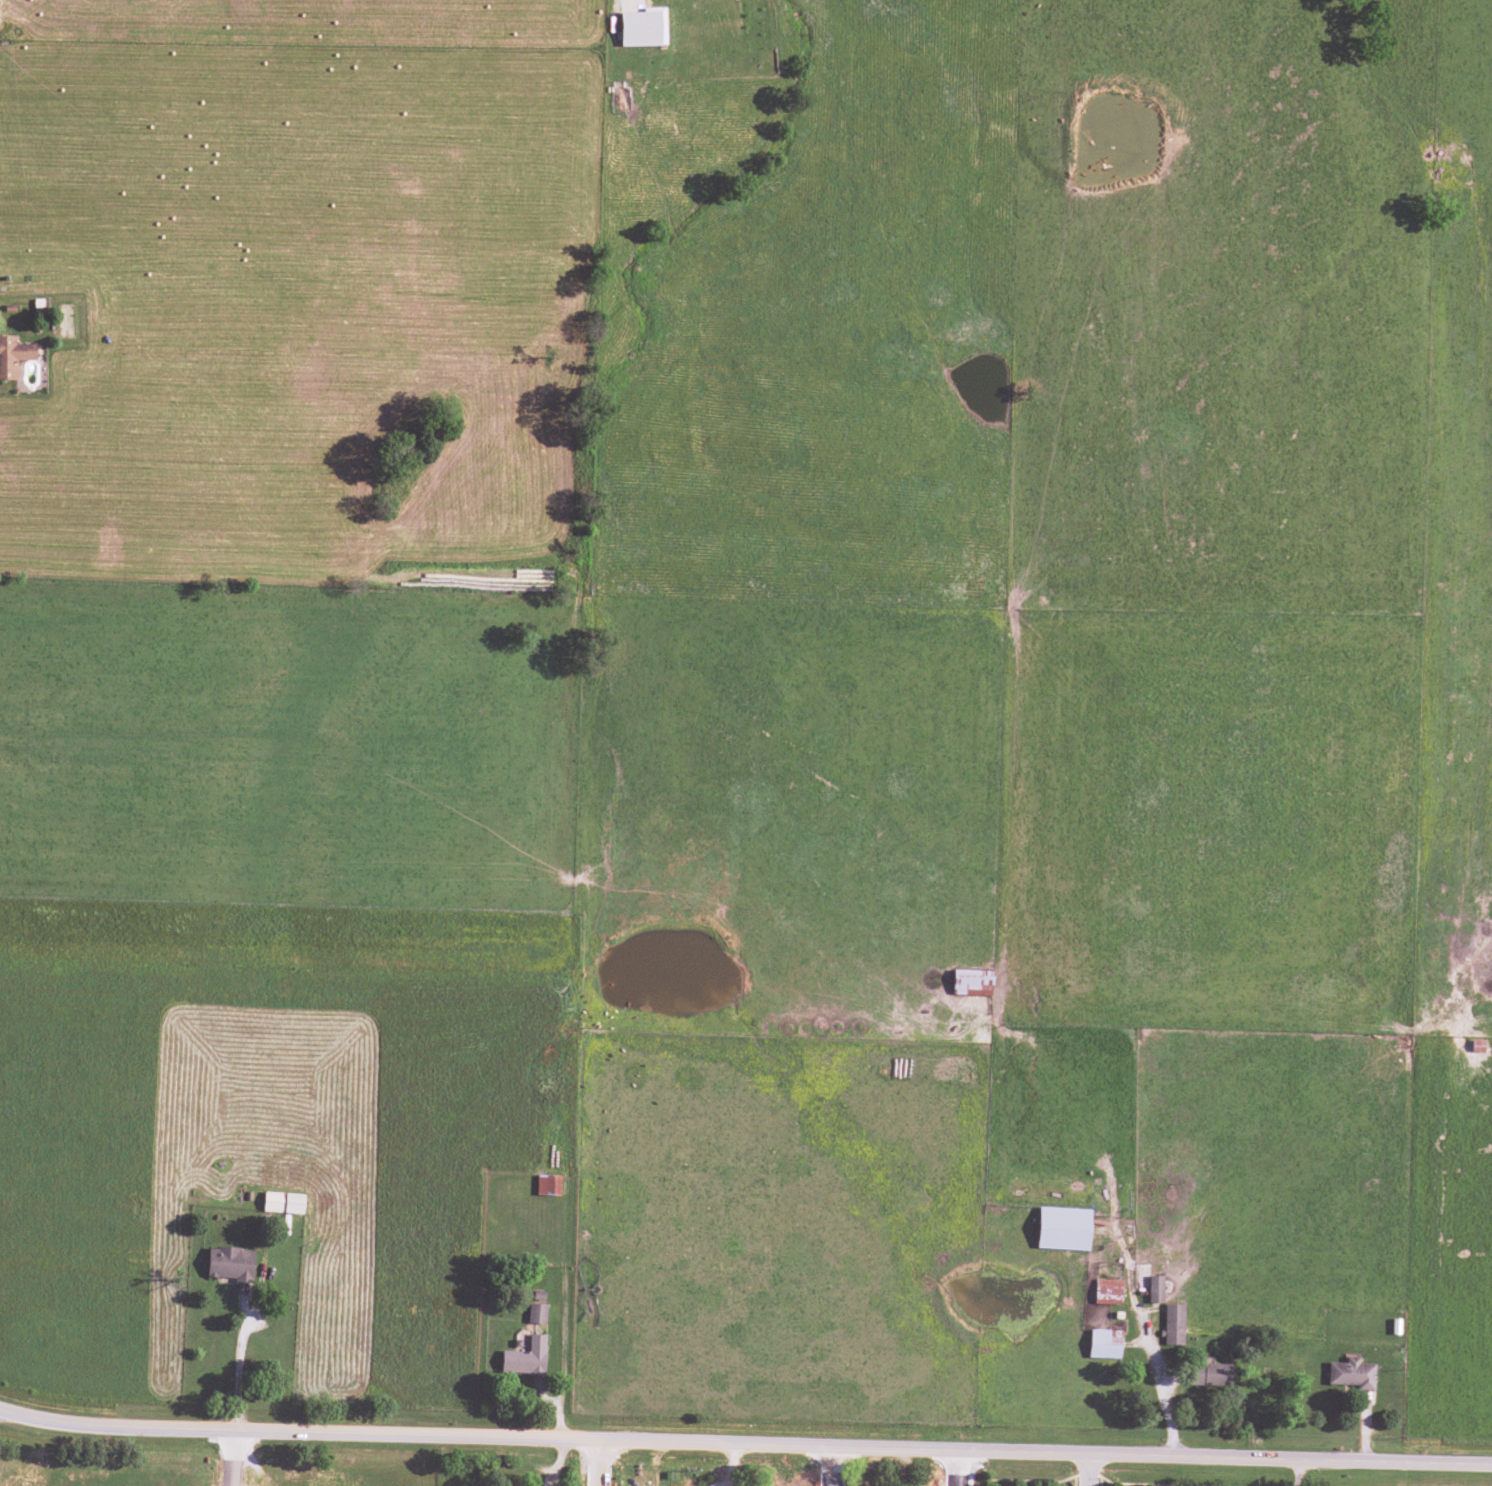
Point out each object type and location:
building: (642, 28)
building: (13, 356)
building: (971, 983)
building: (547, 1185)
building: (282, 1203)
building: (1062, 1229)
building: (229, 1264)
building: (1154, 1289)
building: (1107, 1292)
building: (536, 1314)
building: (1173, 1324)
building: (1104, 1344)
building: (525, 1358)
building: (1209, 1374)
building: (1351, 1374)
road: (745, 1445)
road: (1086, 1470)

